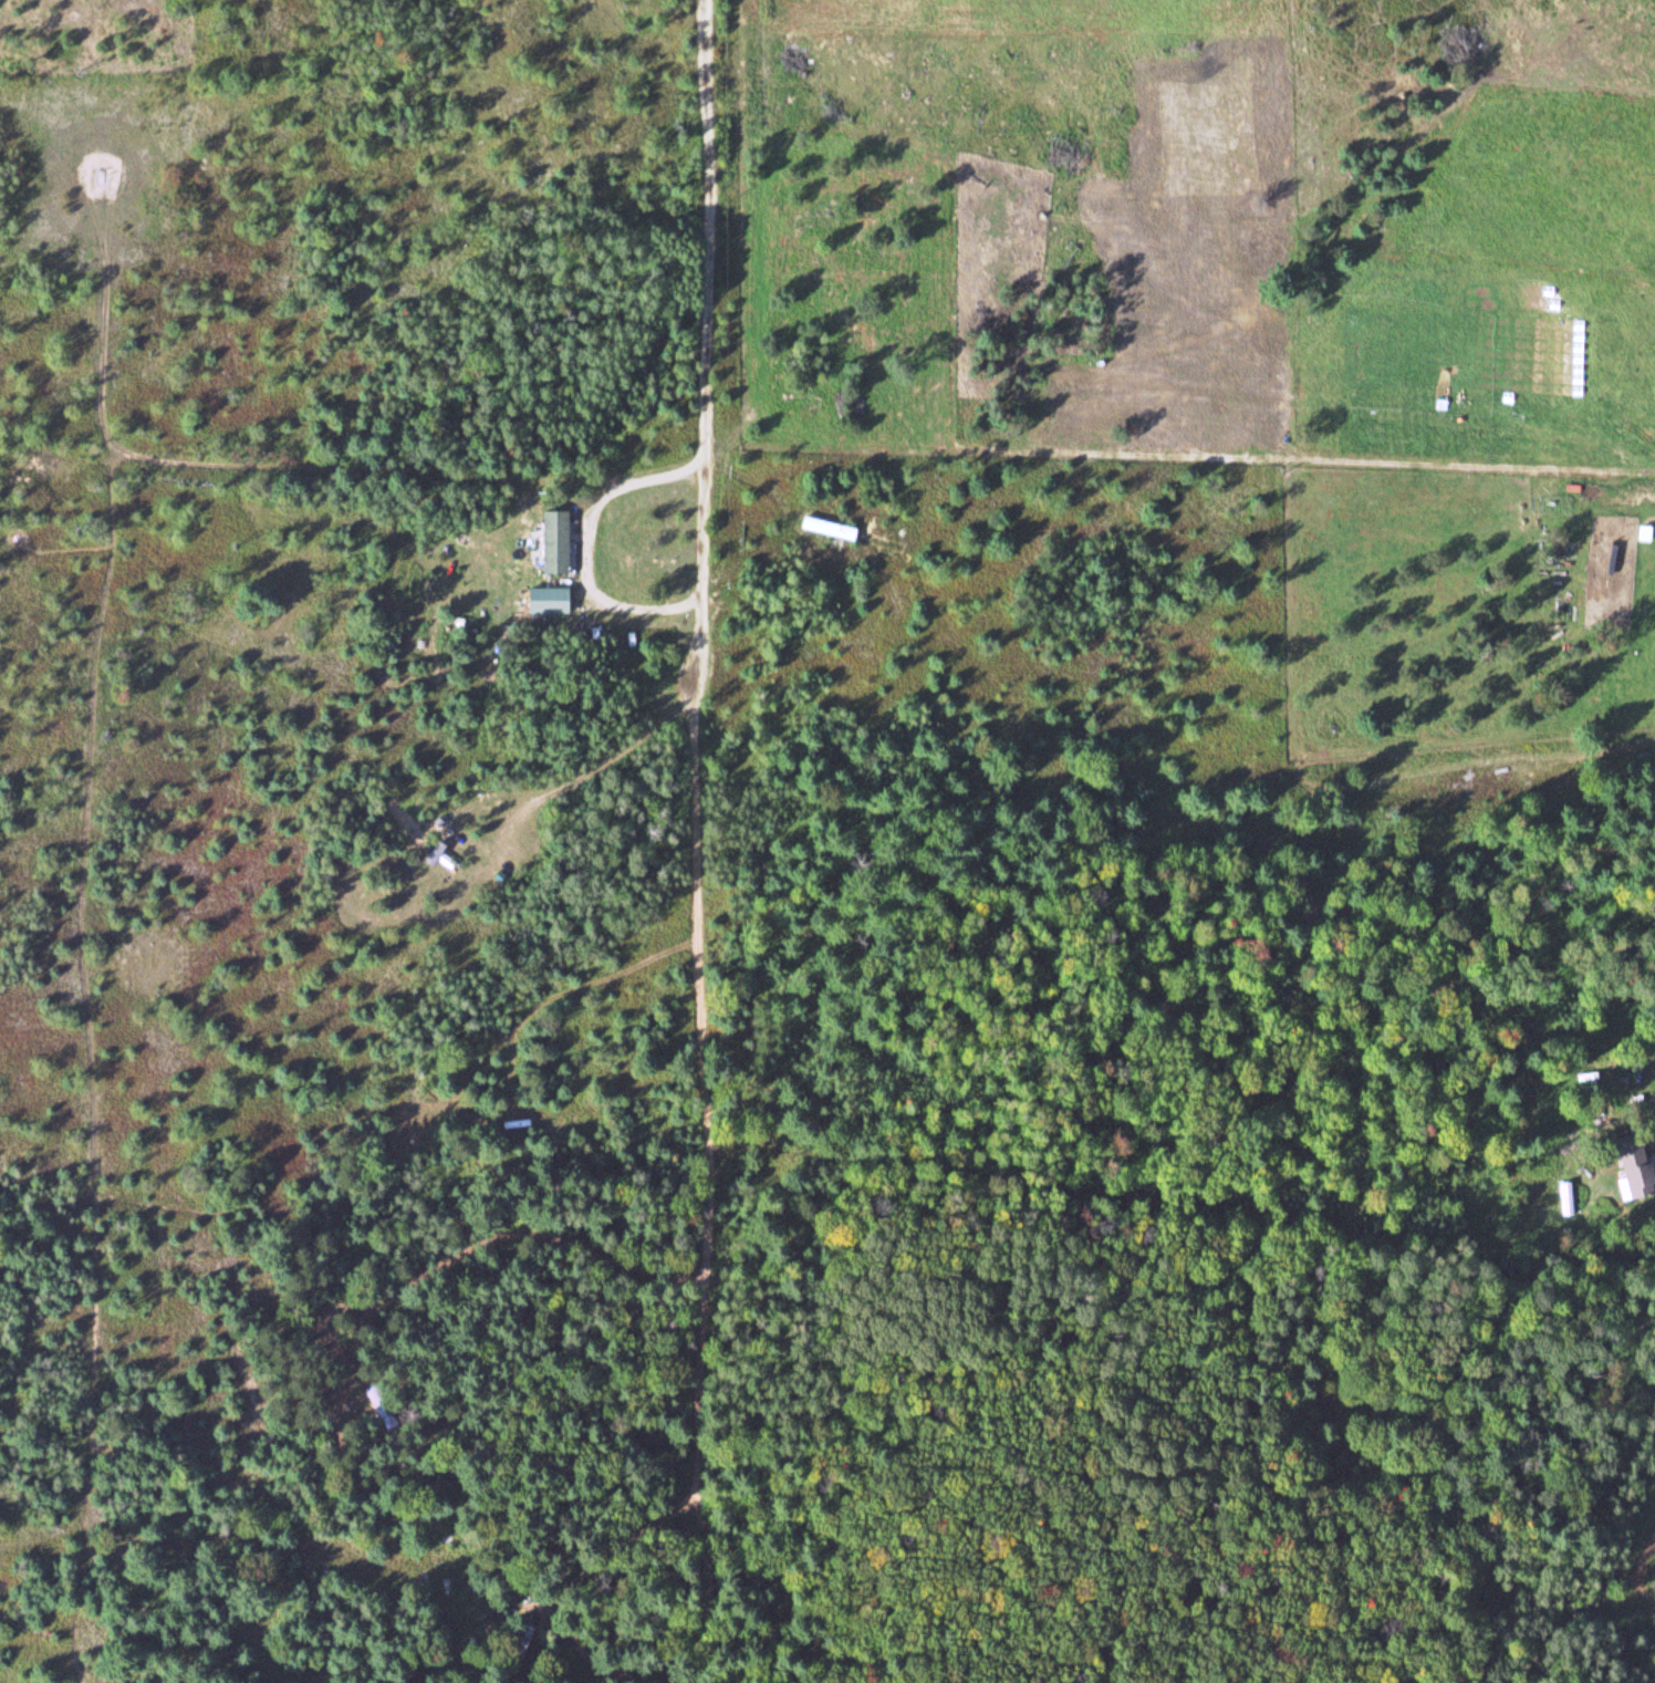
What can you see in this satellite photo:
building: (552, 541)
building: (545, 600)
road: (714, 723)
building: (1632, 1160)
building: (529, 1646)

